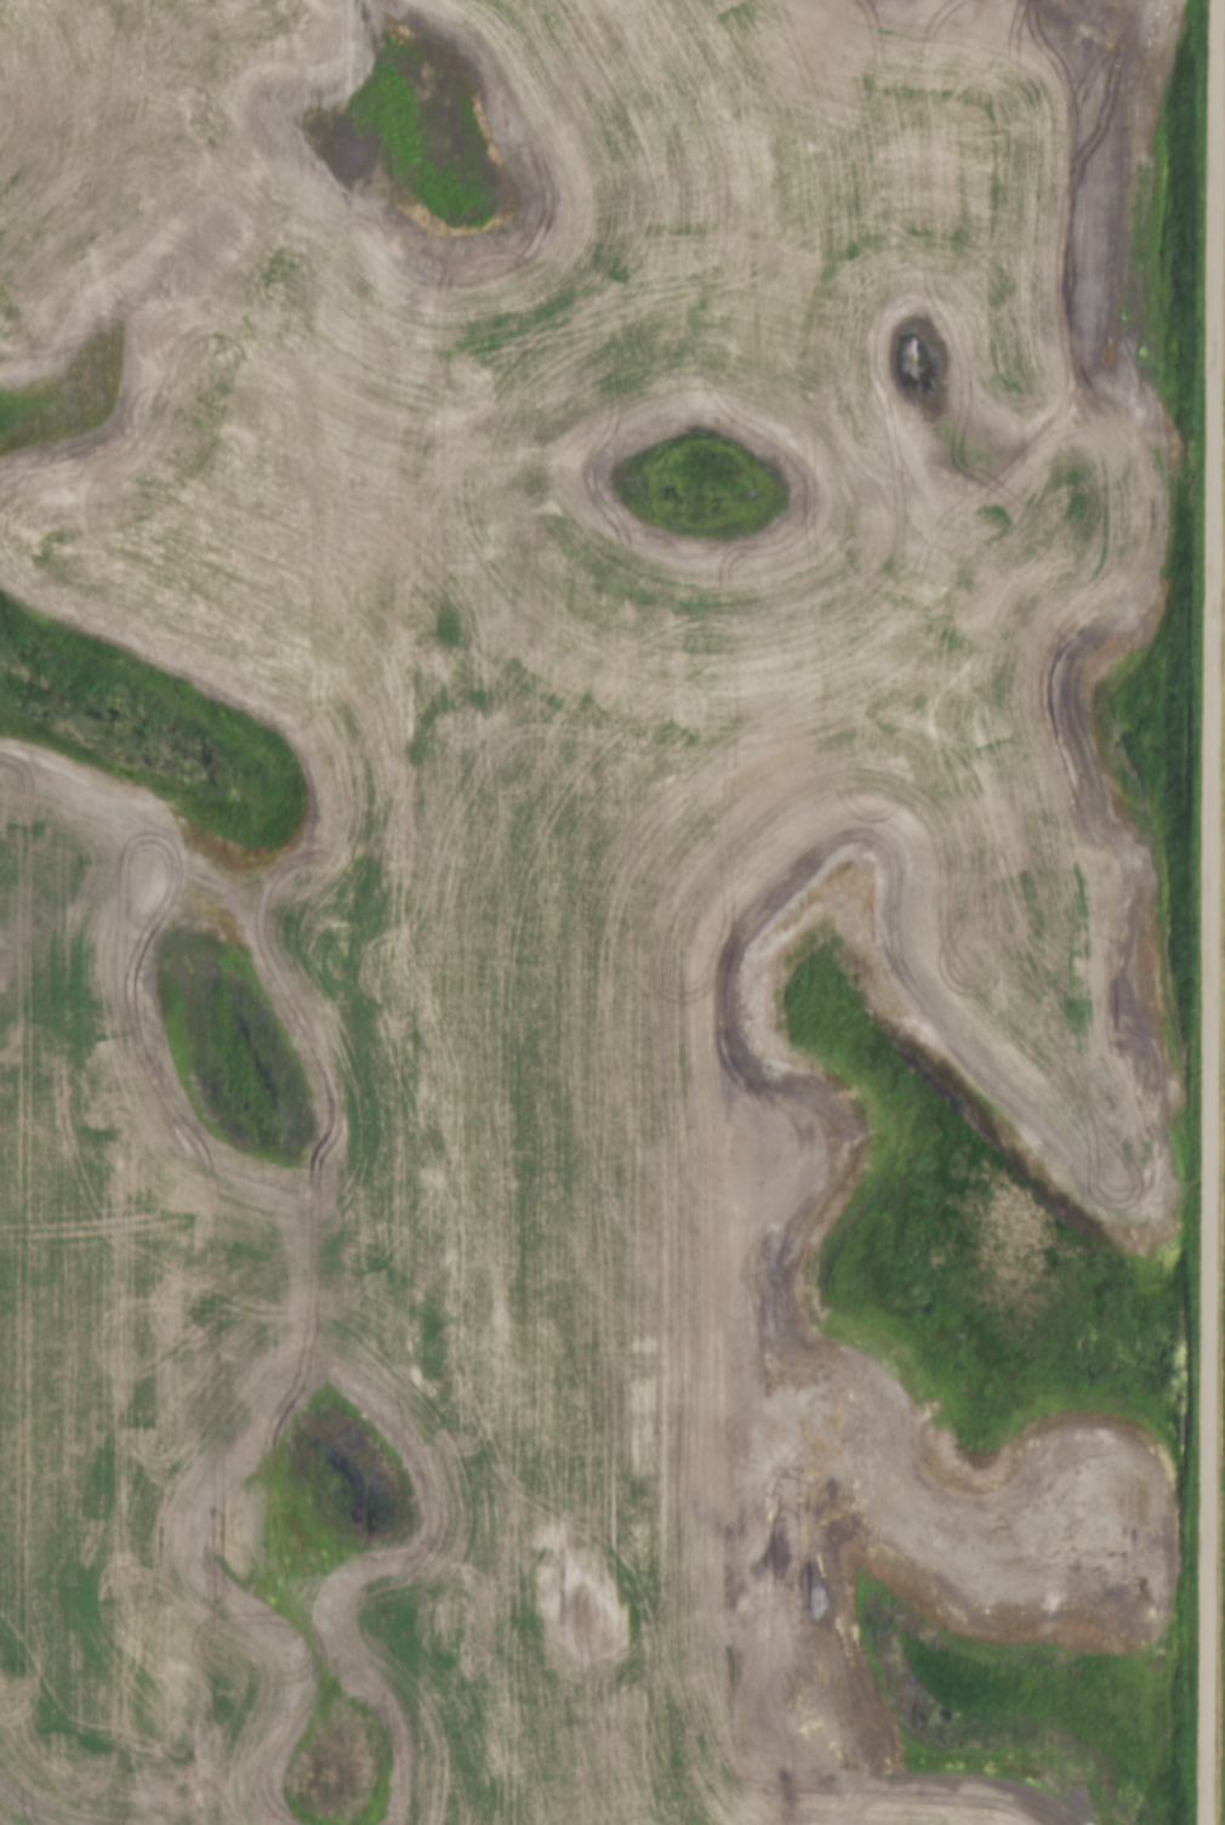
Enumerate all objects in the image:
road: (1219, 953)

